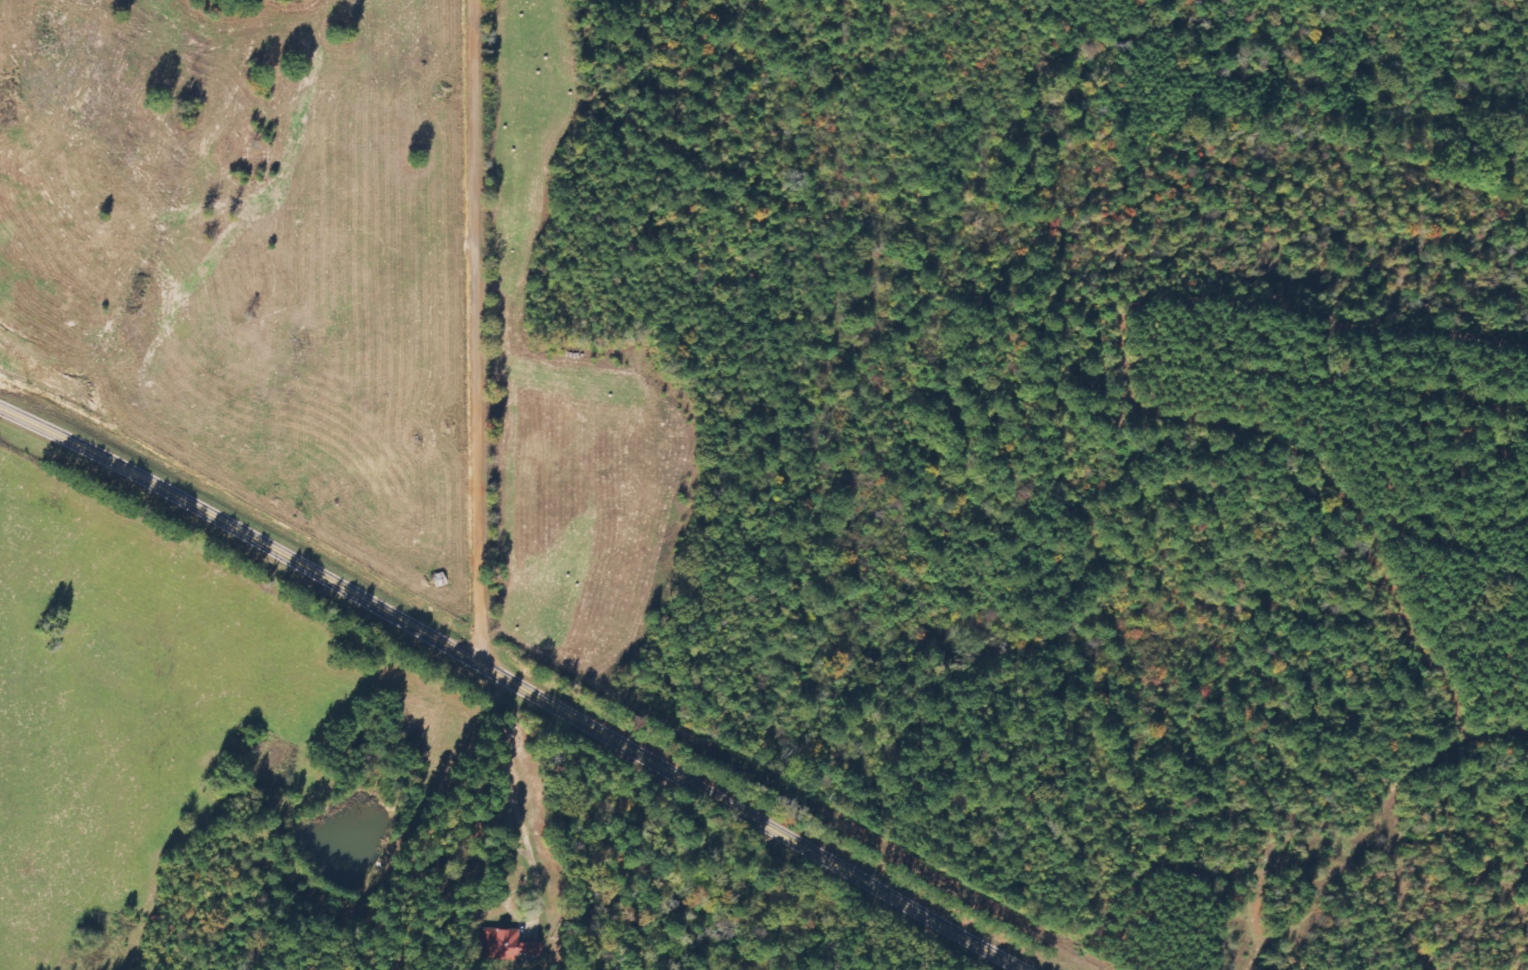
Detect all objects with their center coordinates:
road: (198, 243)
road: (483, 334)
road: (519, 684)
building: (509, 944)

